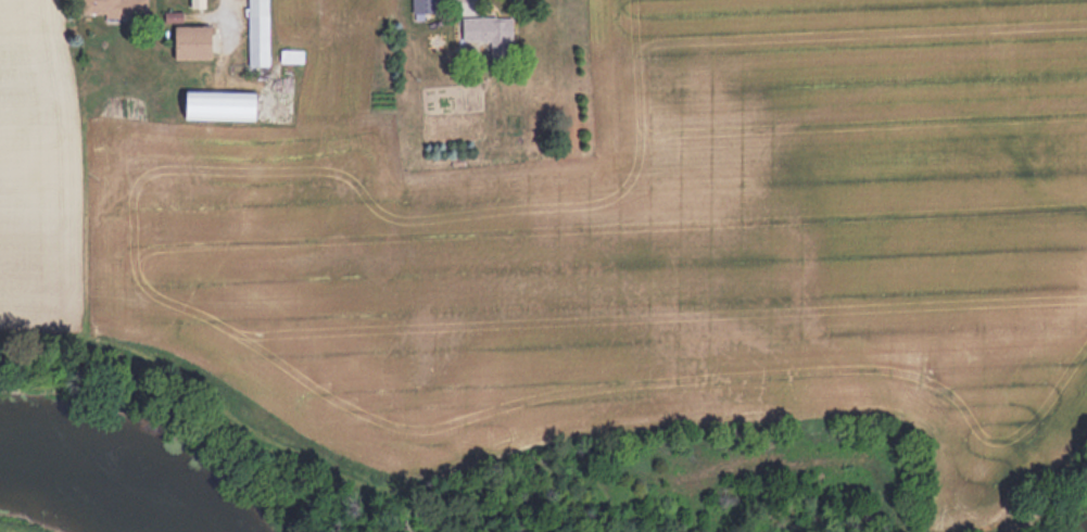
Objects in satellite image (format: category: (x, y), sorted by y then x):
road: (464, 1)
building: (197, 2)
building: (99, 7)
building: (485, 28)
building: (257, 41)
building: (190, 42)
building: (215, 105)
river: (90, 486)

